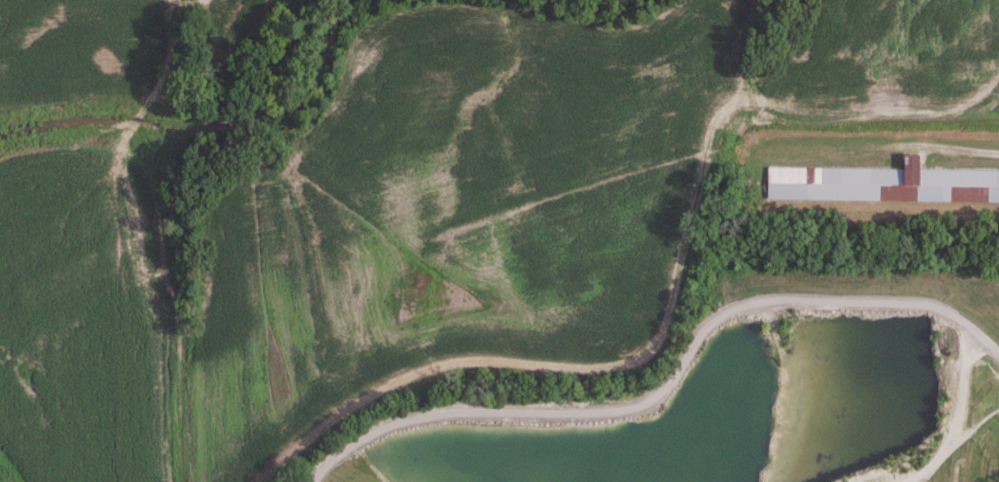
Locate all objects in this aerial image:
river: (209, 127)
road: (955, 151)
building: (882, 185)
building: (942, 338)
road: (667, 383)

